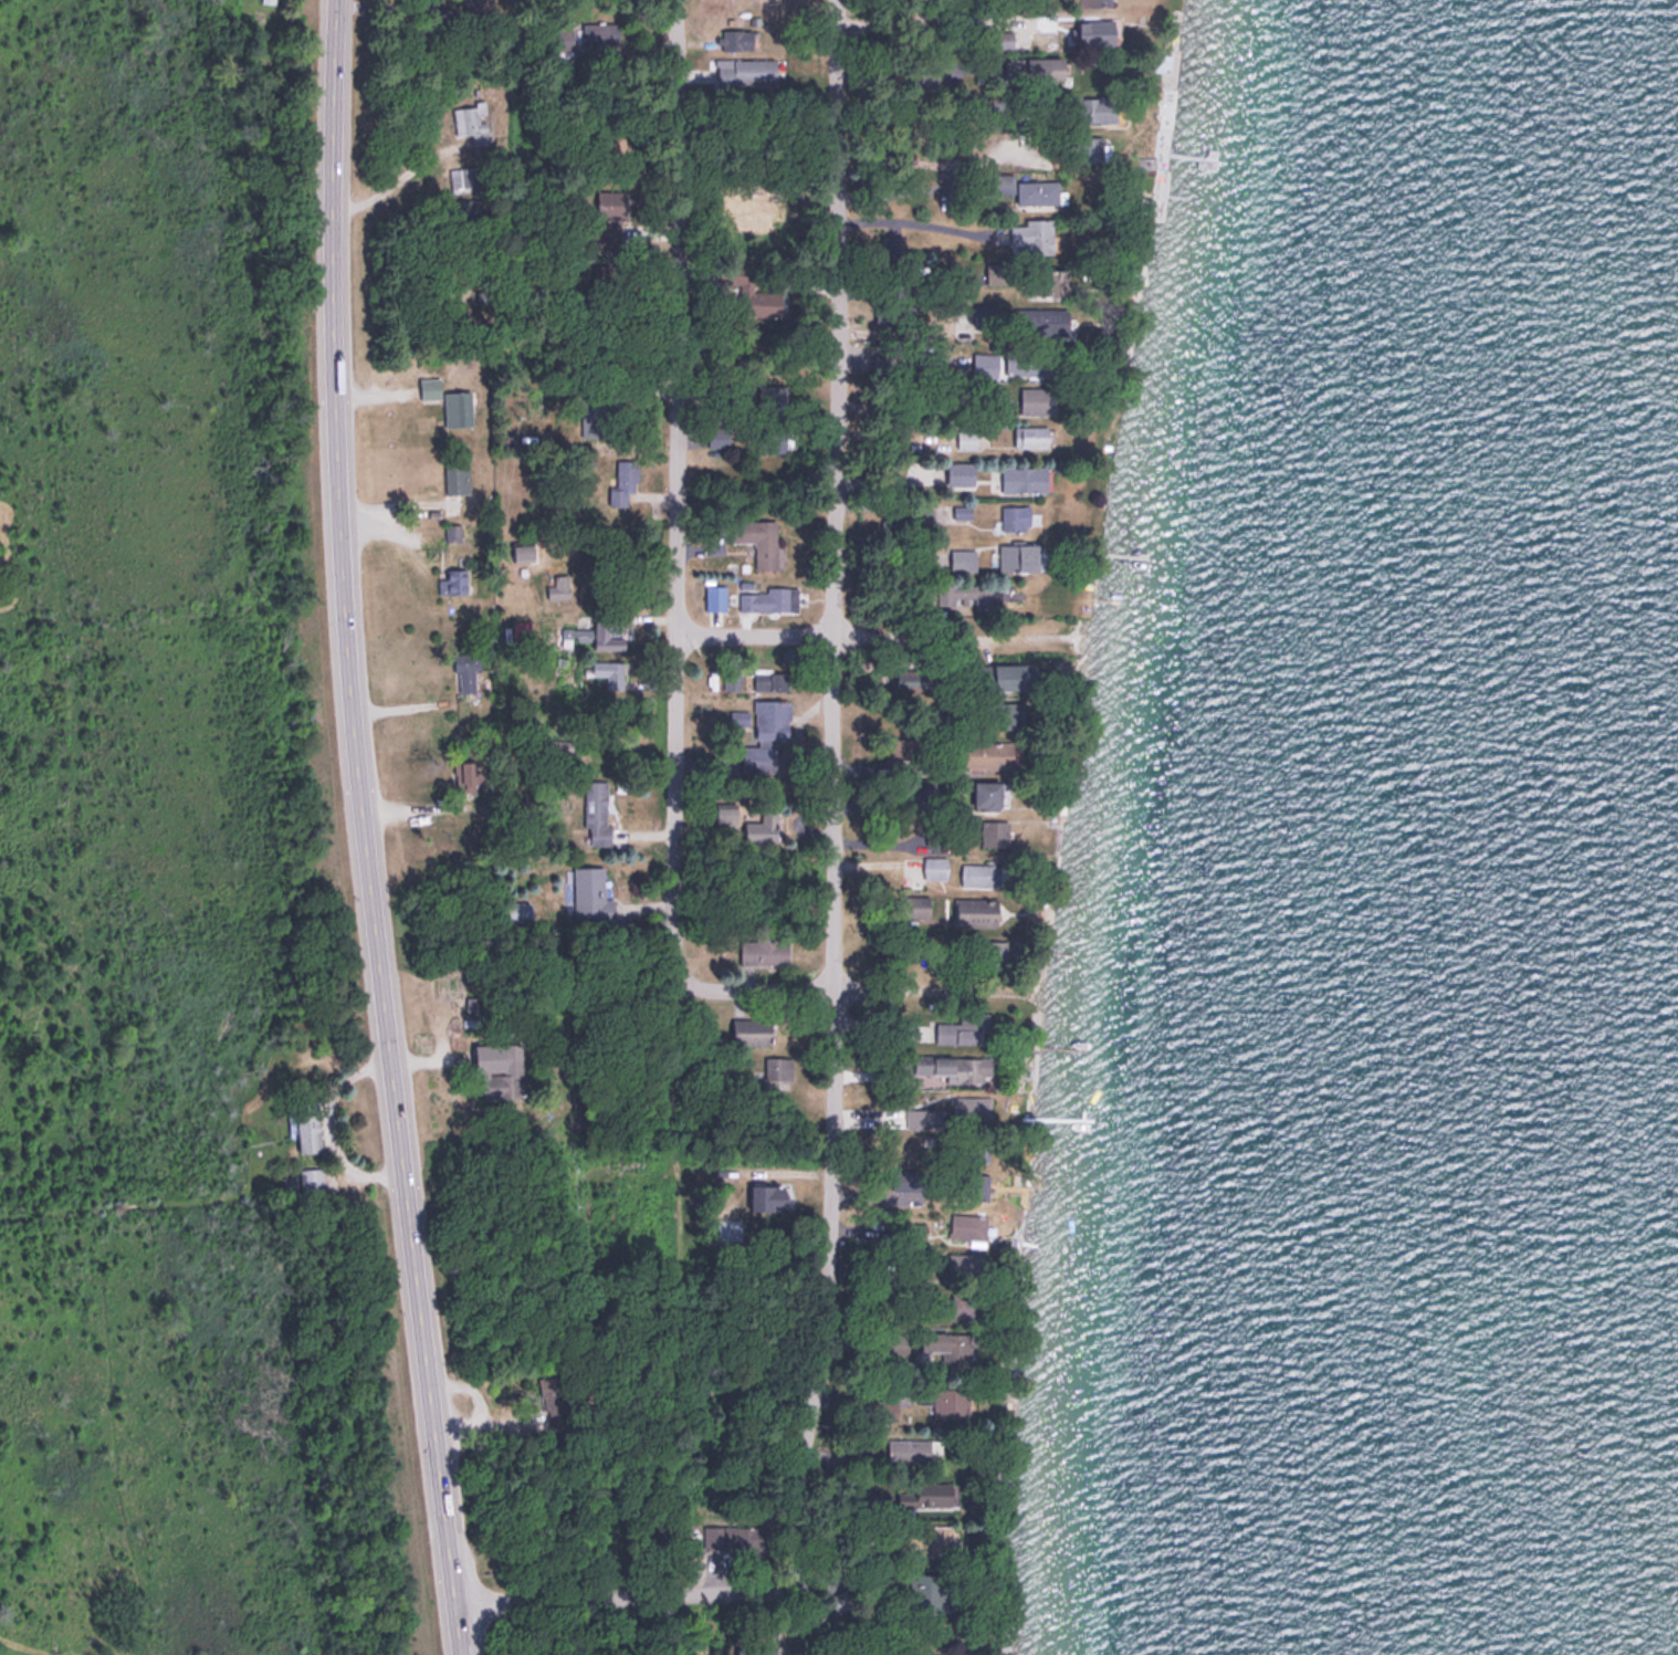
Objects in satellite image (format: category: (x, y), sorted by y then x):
building: (268, 0)
building: (1097, 2)
building: (472, 8)
building: (600, 30)
building: (1094, 30)
building: (564, 34)
building: (1034, 67)
building: (747, 71)
building: (1099, 108)
building: (470, 119)
building: (470, 177)
building: (1042, 195)
building: (611, 201)
building: (469, 206)
road: (910, 220)
building: (1032, 235)
building: (891, 243)
building: (1051, 281)
building: (754, 293)
building: (895, 308)
building: (985, 313)
building: (1057, 322)
building: (1030, 363)
building: (985, 364)
building: (892, 366)
building: (431, 391)
building: (772, 396)
building: (1035, 399)
building: (461, 405)
building: (592, 420)
building: (1031, 436)
building: (719, 437)
building: (966, 437)
building: (961, 472)
building: (455, 473)
building: (1025, 478)
building: (621, 482)
building: (962, 511)
building: (1015, 517)
building: (889, 522)
building: (452, 531)
building: (757, 540)
building: (523, 548)
building: (1019, 556)
building: (963, 559)
building: (452, 579)
building: (557, 584)
building: (976, 595)
building: (773, 598)
building: (521, 629)
building: (605, 632)
road: (870, 638)
building: (464, 671)
building: (609, 671)
building: (1014, 673)
building: (770, 678)
building: (911, 678)
building: (1010, 713)
building: (766, 734)
building: (903, 747)
building: (988, 752)
road: (675, 761)
building: (464, 775)
building: (989, 794)
building: (596, 810)
road: (837, 818)
road: (366, 829)
building: (994, 830)
building: (761, 831)
building: (935, 866)
building: (978, 873)
building: (591, 890)
building: (917, 904)
building: (517, 909)
building: (976, 910)
building: (764, 949)
road: (856, 994)
building: (959, 1027)
building: (752, 1029)
building: (778, 1066)
building: (957, 1066)
building: (504, 1078)
building: (976, 1107)
building: (308, 1128)
building: (312, 1180)
building: (768, 1194)
building: (968, 1223)
building: (946, 1345)
building: (947, 1400)
building: (910, 1447)
building: (861, 1454)
building: (934, 1492)
road: (749, 1534)
building: (743, 1536)
building: (936, 1538)
building: (932, 1590)
road: (598, 1598)
building: (838, 1602)
building: (765, 1651)
building: (936, 1654)

